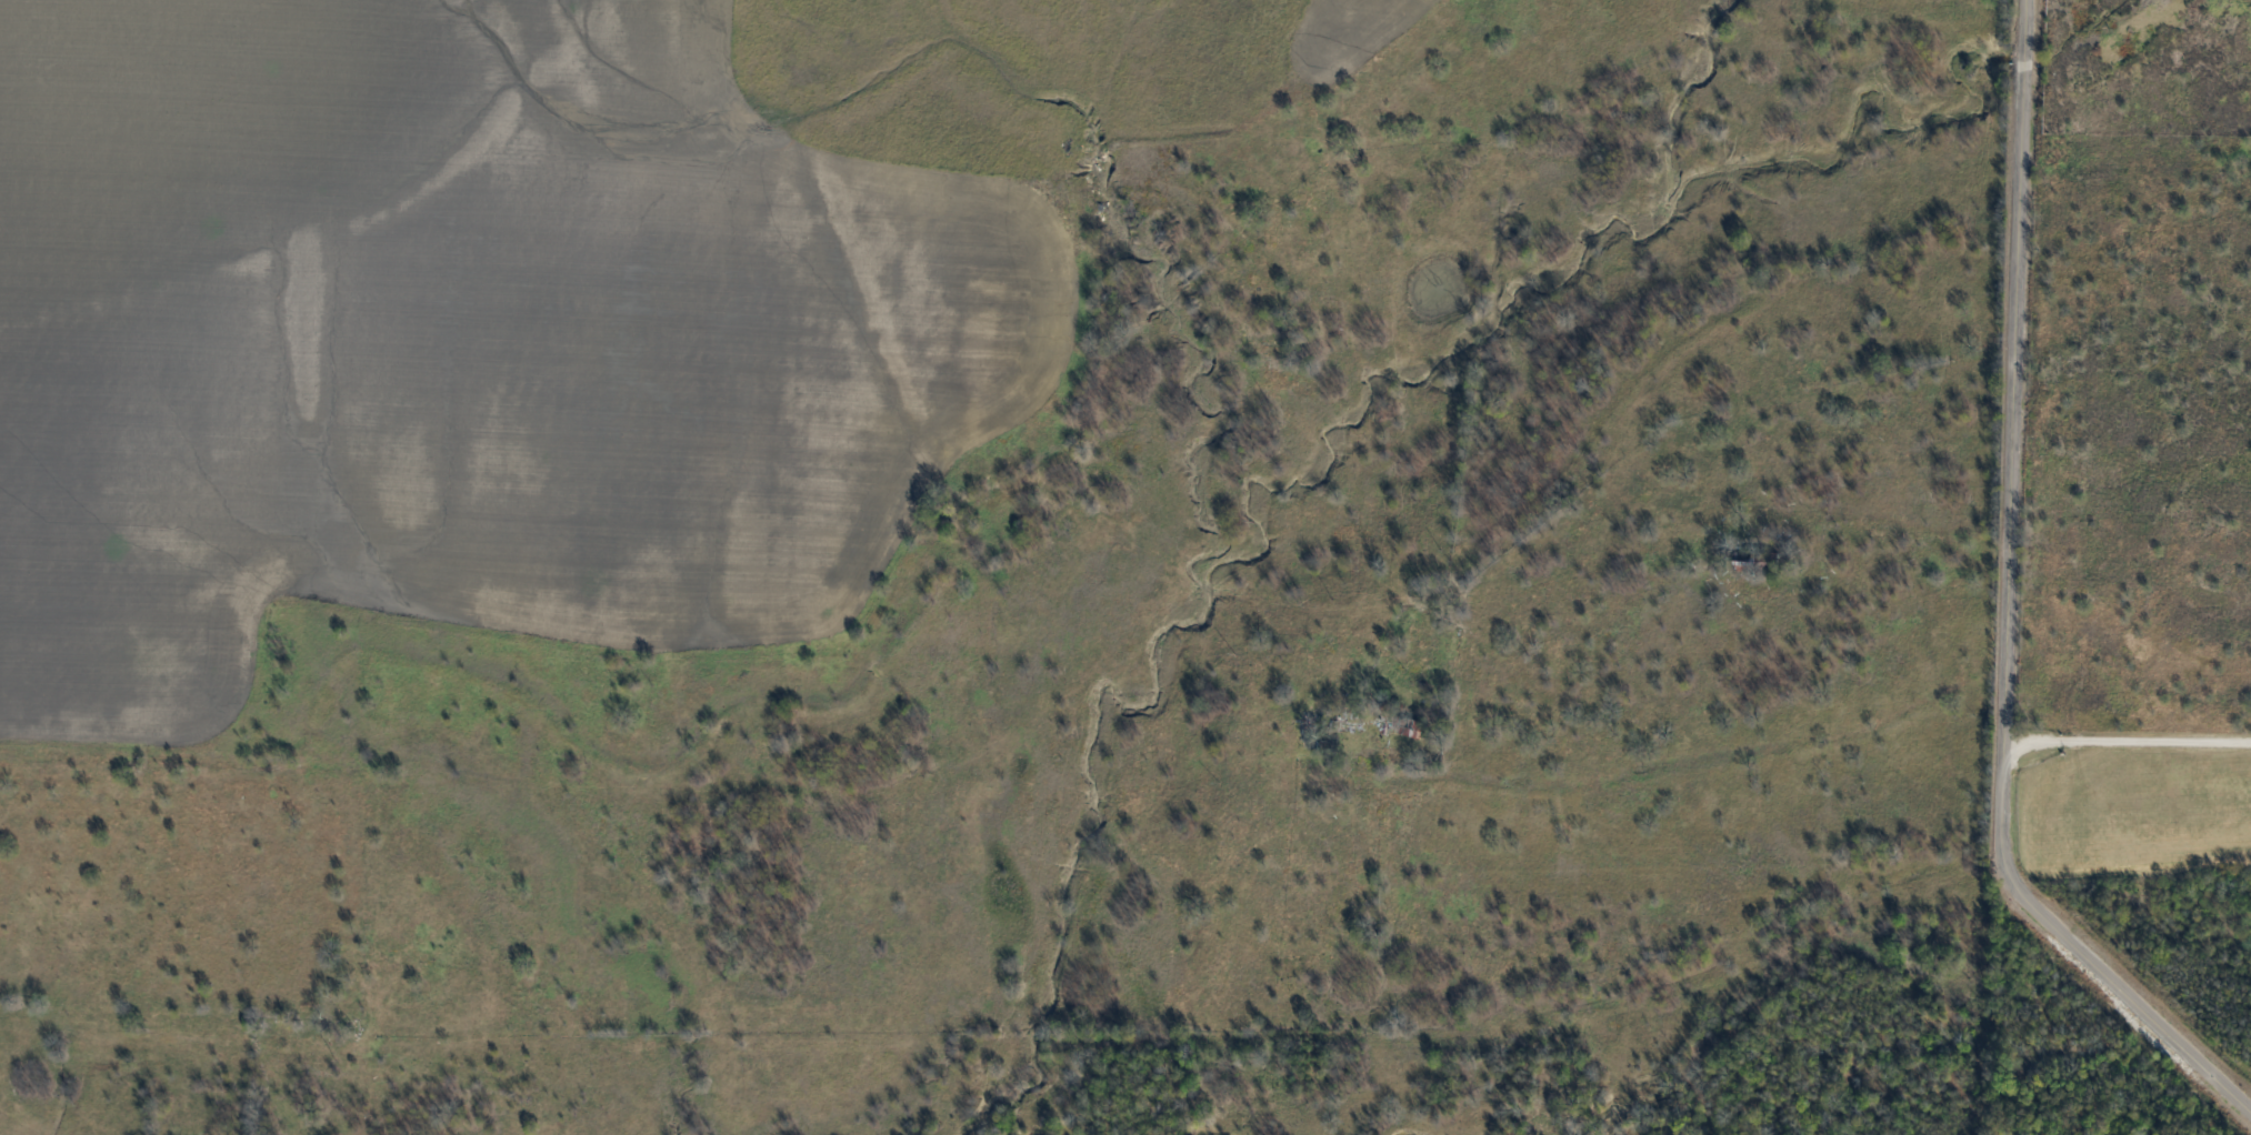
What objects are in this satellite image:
road: (2015, 603)
building: (1400, 727)
road: (2131, 740)

